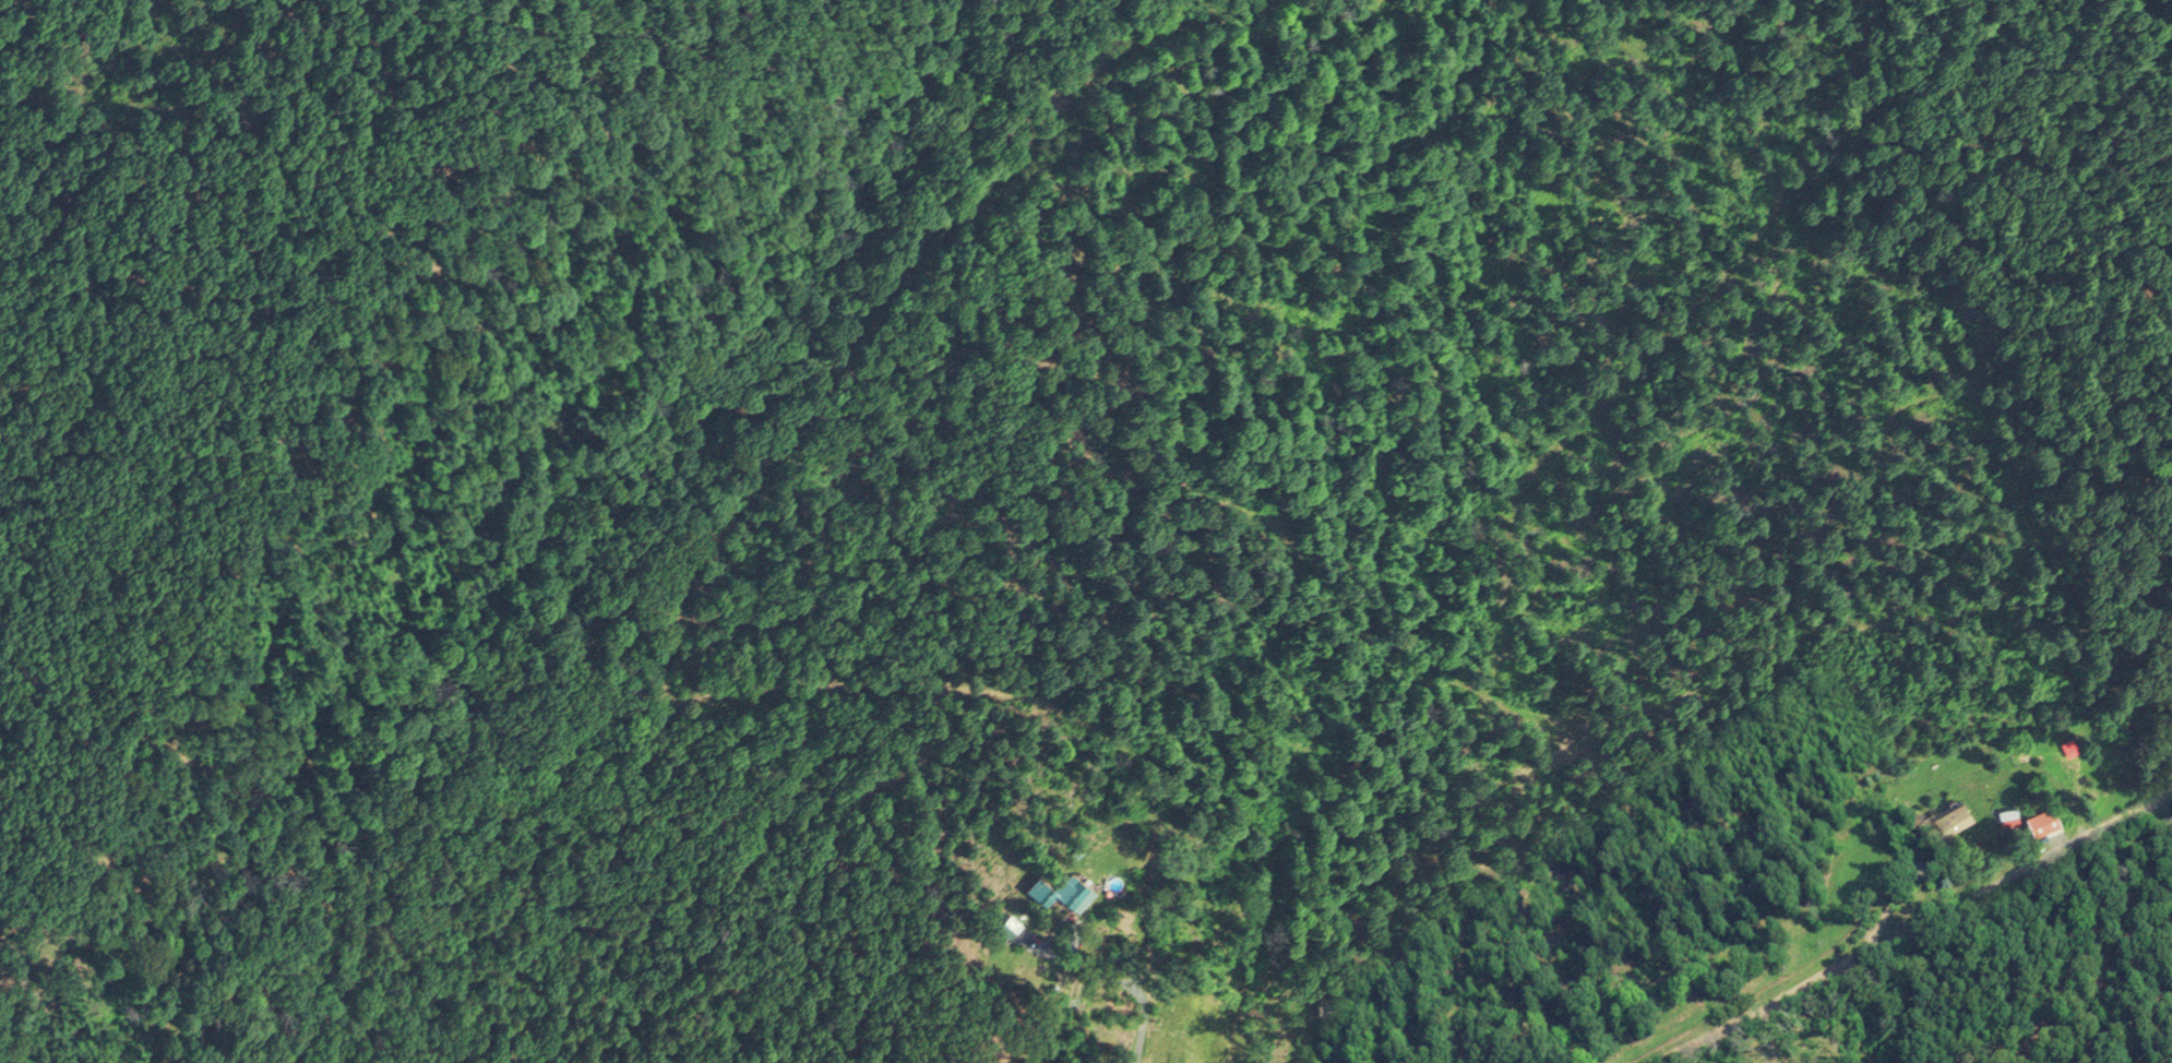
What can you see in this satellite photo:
building: (2072, 743)
building: (1954, 814)
building: (2043, 815)

